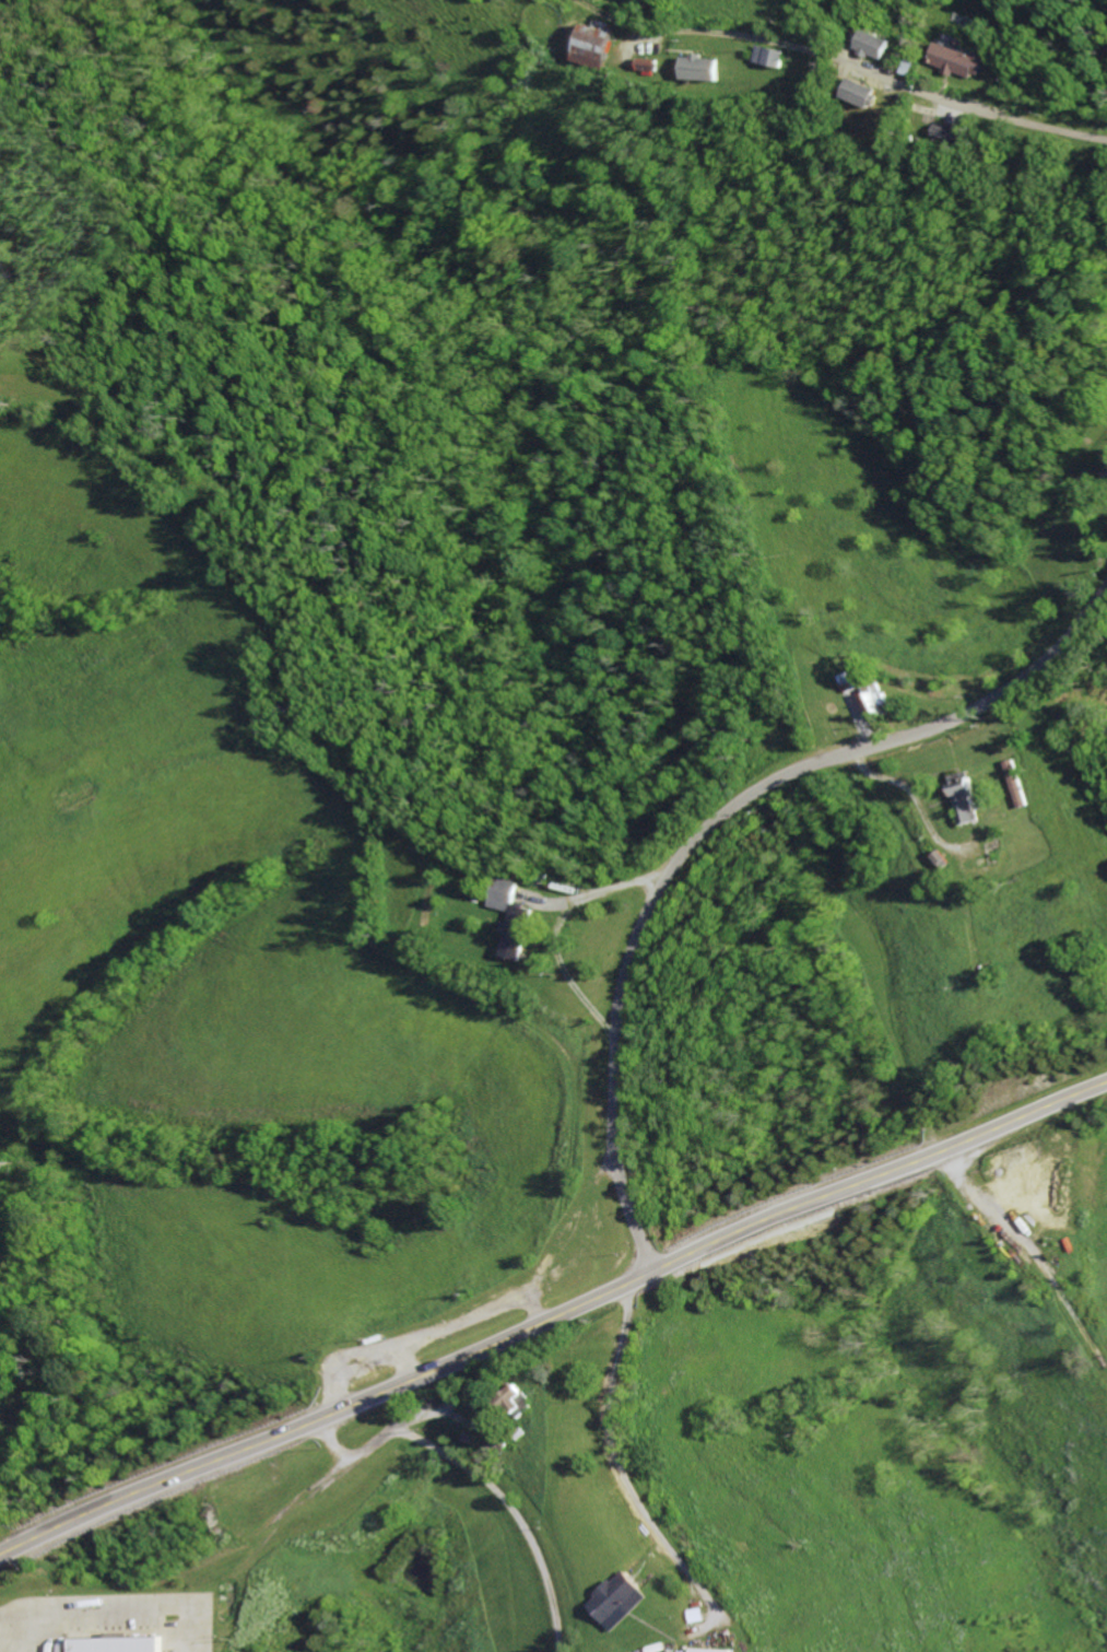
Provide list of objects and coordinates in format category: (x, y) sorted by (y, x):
road: (742, 35)
building: (878, 45)
building: (592, 47)
building: (772, 57)
building: (962, 60)
building: (699, 68)
building: (863, 94)
road: (977, 108)
building: (952, 134)
building: (855, 683)
building: (882, 704)
road: (1057, 754)
building: (1022, 786)
building: (965, 799)
road: (709, 832)
building: (507, 895)
road: (563, 925)
building: (519, 934)
road: (553, 1320)
road: (987, 1331)
building: (519, 1399)
road: (420, 1414)
road: (333, 1442)
road: (358, 1454)
road: (628, 1465)
road: (514, 1512)
building: (620, 1601)
building: (120, 1644)
building: (715, 1650)

